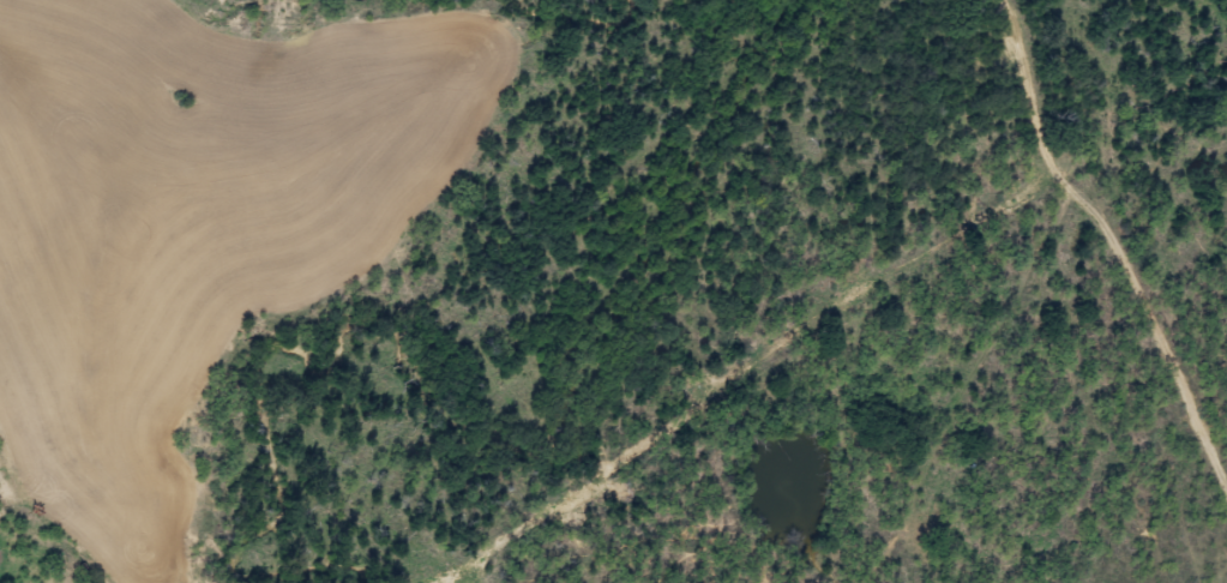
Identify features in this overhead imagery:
road: (1115, 94)
road: (1040, 321)
road: (200, 516)

